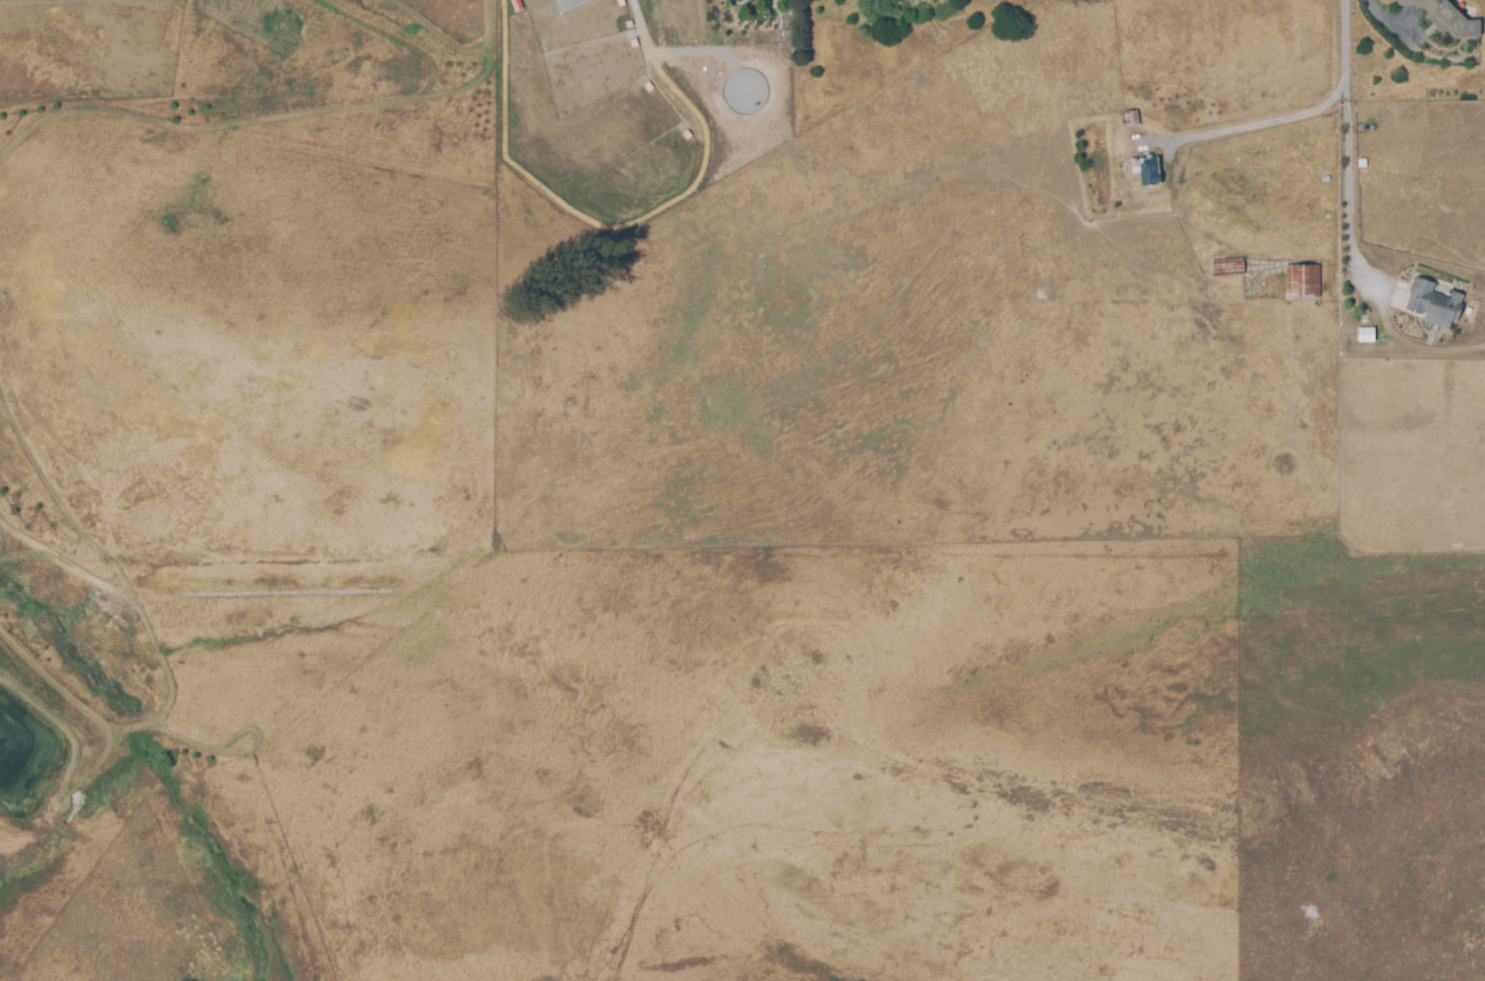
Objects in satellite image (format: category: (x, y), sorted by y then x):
building: (751, 0)
building: (756, 0)
building: (1444, 19)
road: (1344, 46)
building: (1130, 118)
road: (1258, 125)
building: (1146, 170)
building: (1325, 179)
road: (1347, 201)
building: (1226, 268)
building: (1302, 281)
building: (1434, 303)
building: (1365, 334)

